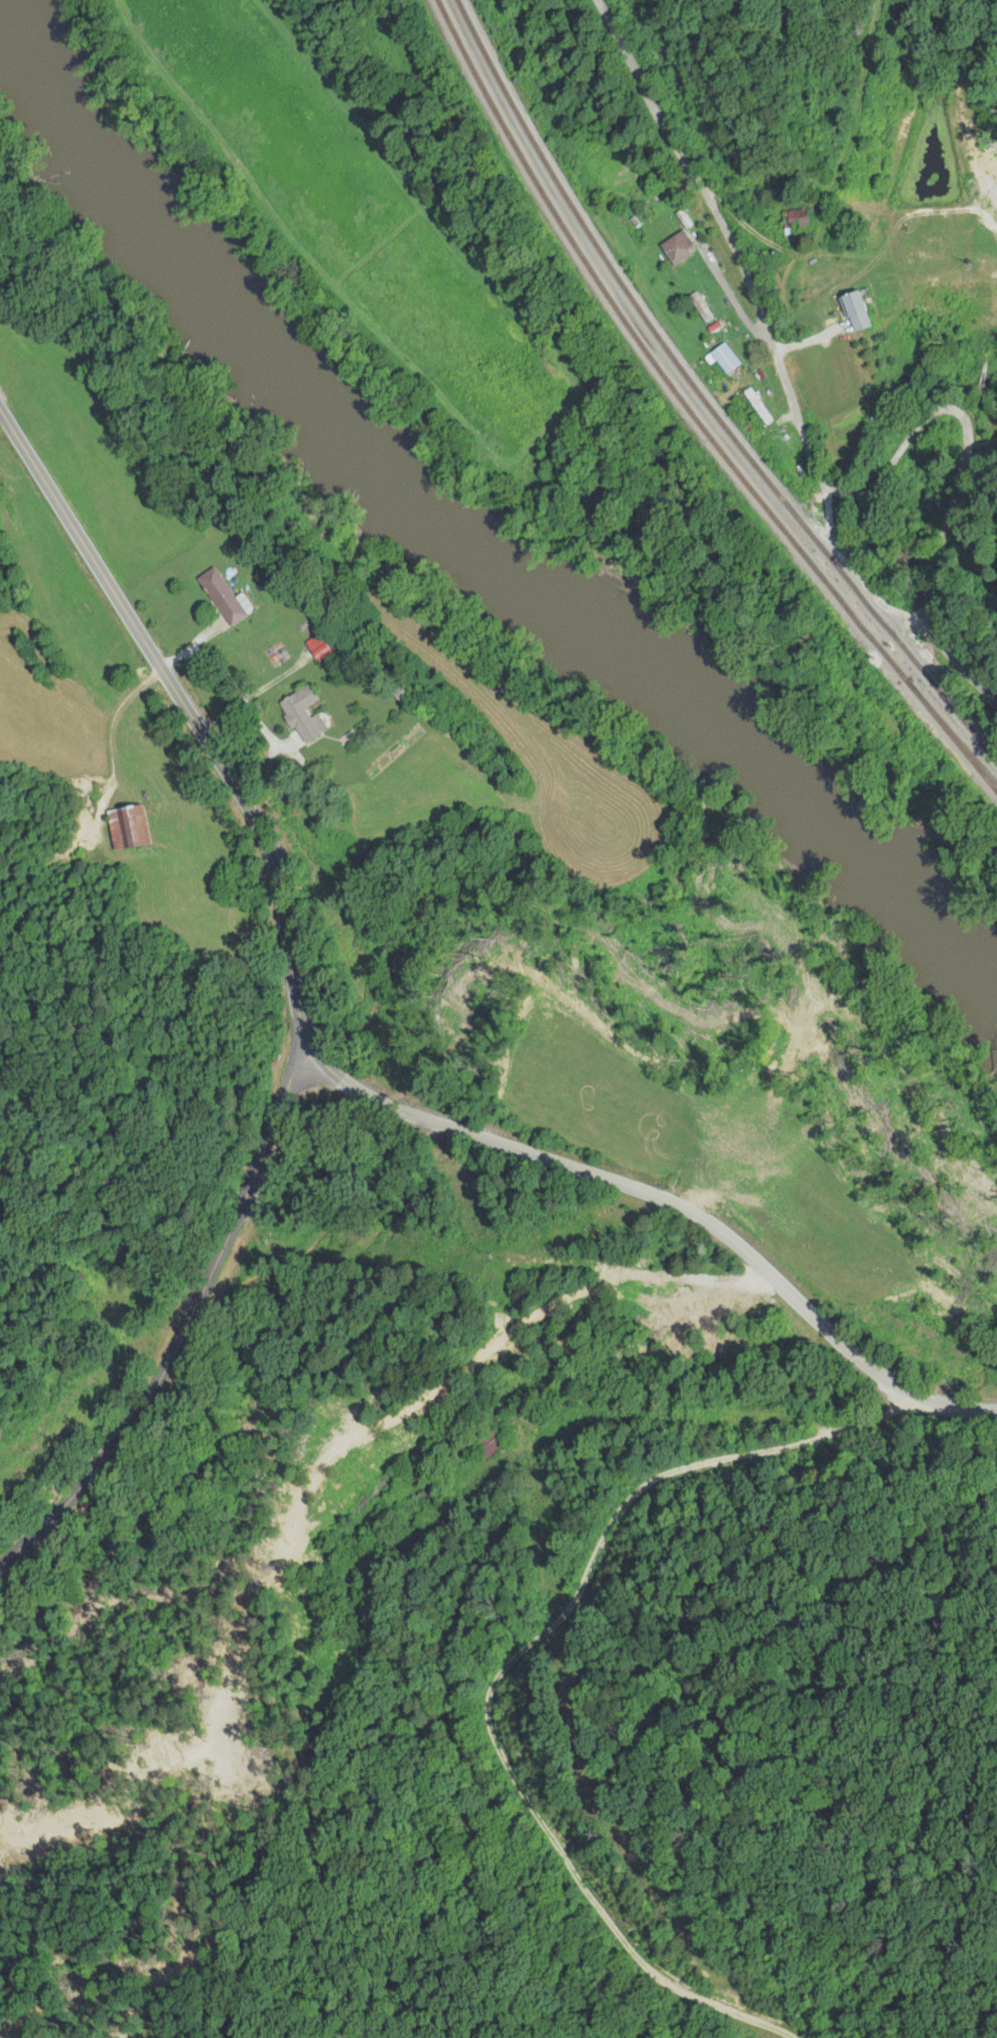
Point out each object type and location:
building: (791, 219)
building: (677, 247)
building: (699, 306)
building: (851, 310)
building: (724, 358)
railway: (700, 397)
road: (819, 402)
building: (758, 406)
river: (470, 554)
building: (232, 598)
building: (325, 646)
building: (310, 720)
building: (133, 829)
road: (337, 1075)
road: (188, 1322)
road: (508, 1672)

